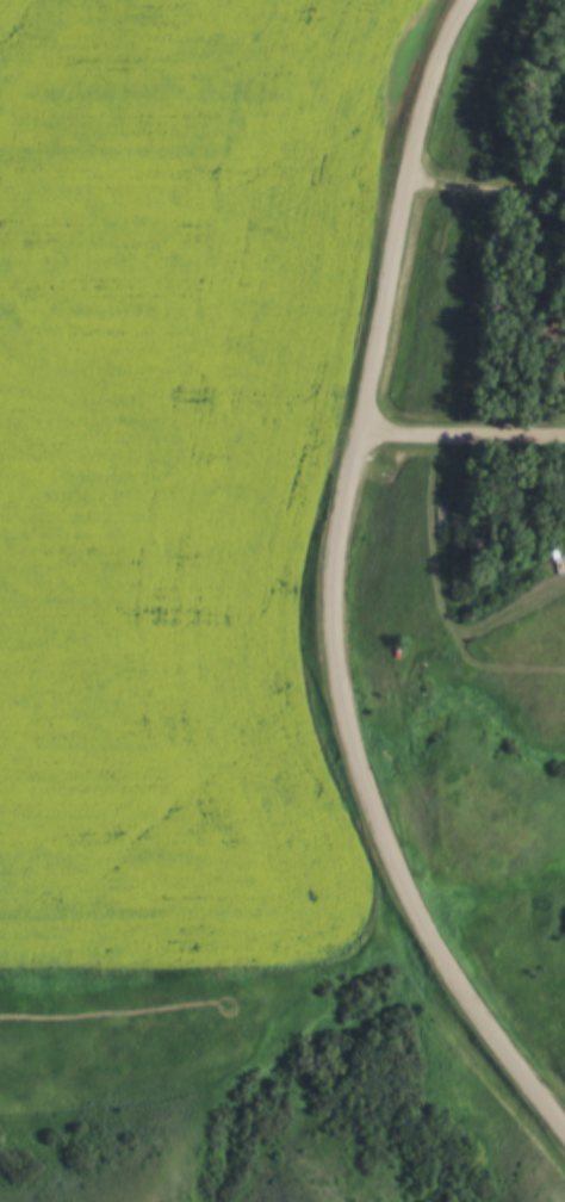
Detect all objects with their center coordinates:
road: (489, 191)
road: (462, 436)
road: (336, 582)

